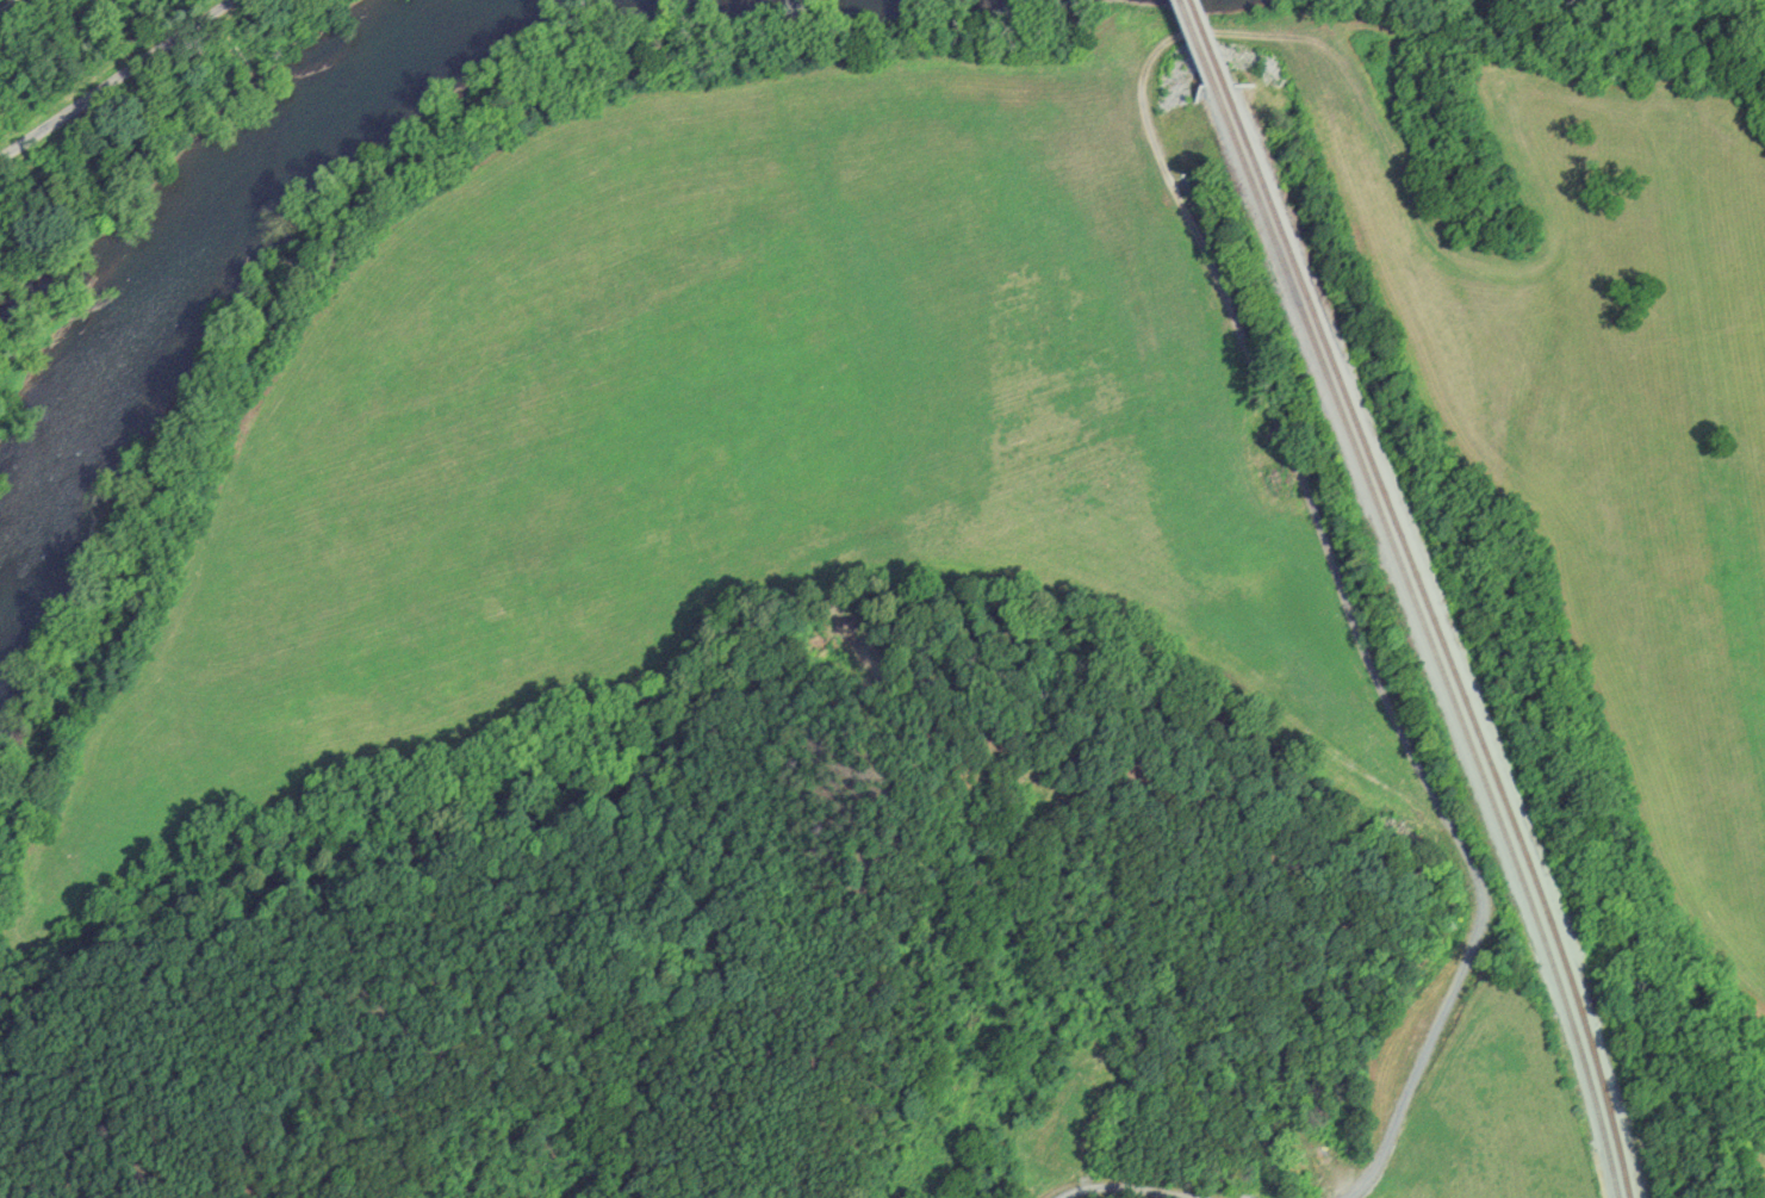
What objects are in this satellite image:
road: (8, 6)
railway: (1211, 44)
railway: (1199, 46)
road: (116, 79)
river: (174, 265)
railway: (1443, 639)
railway: (1431, 641)

